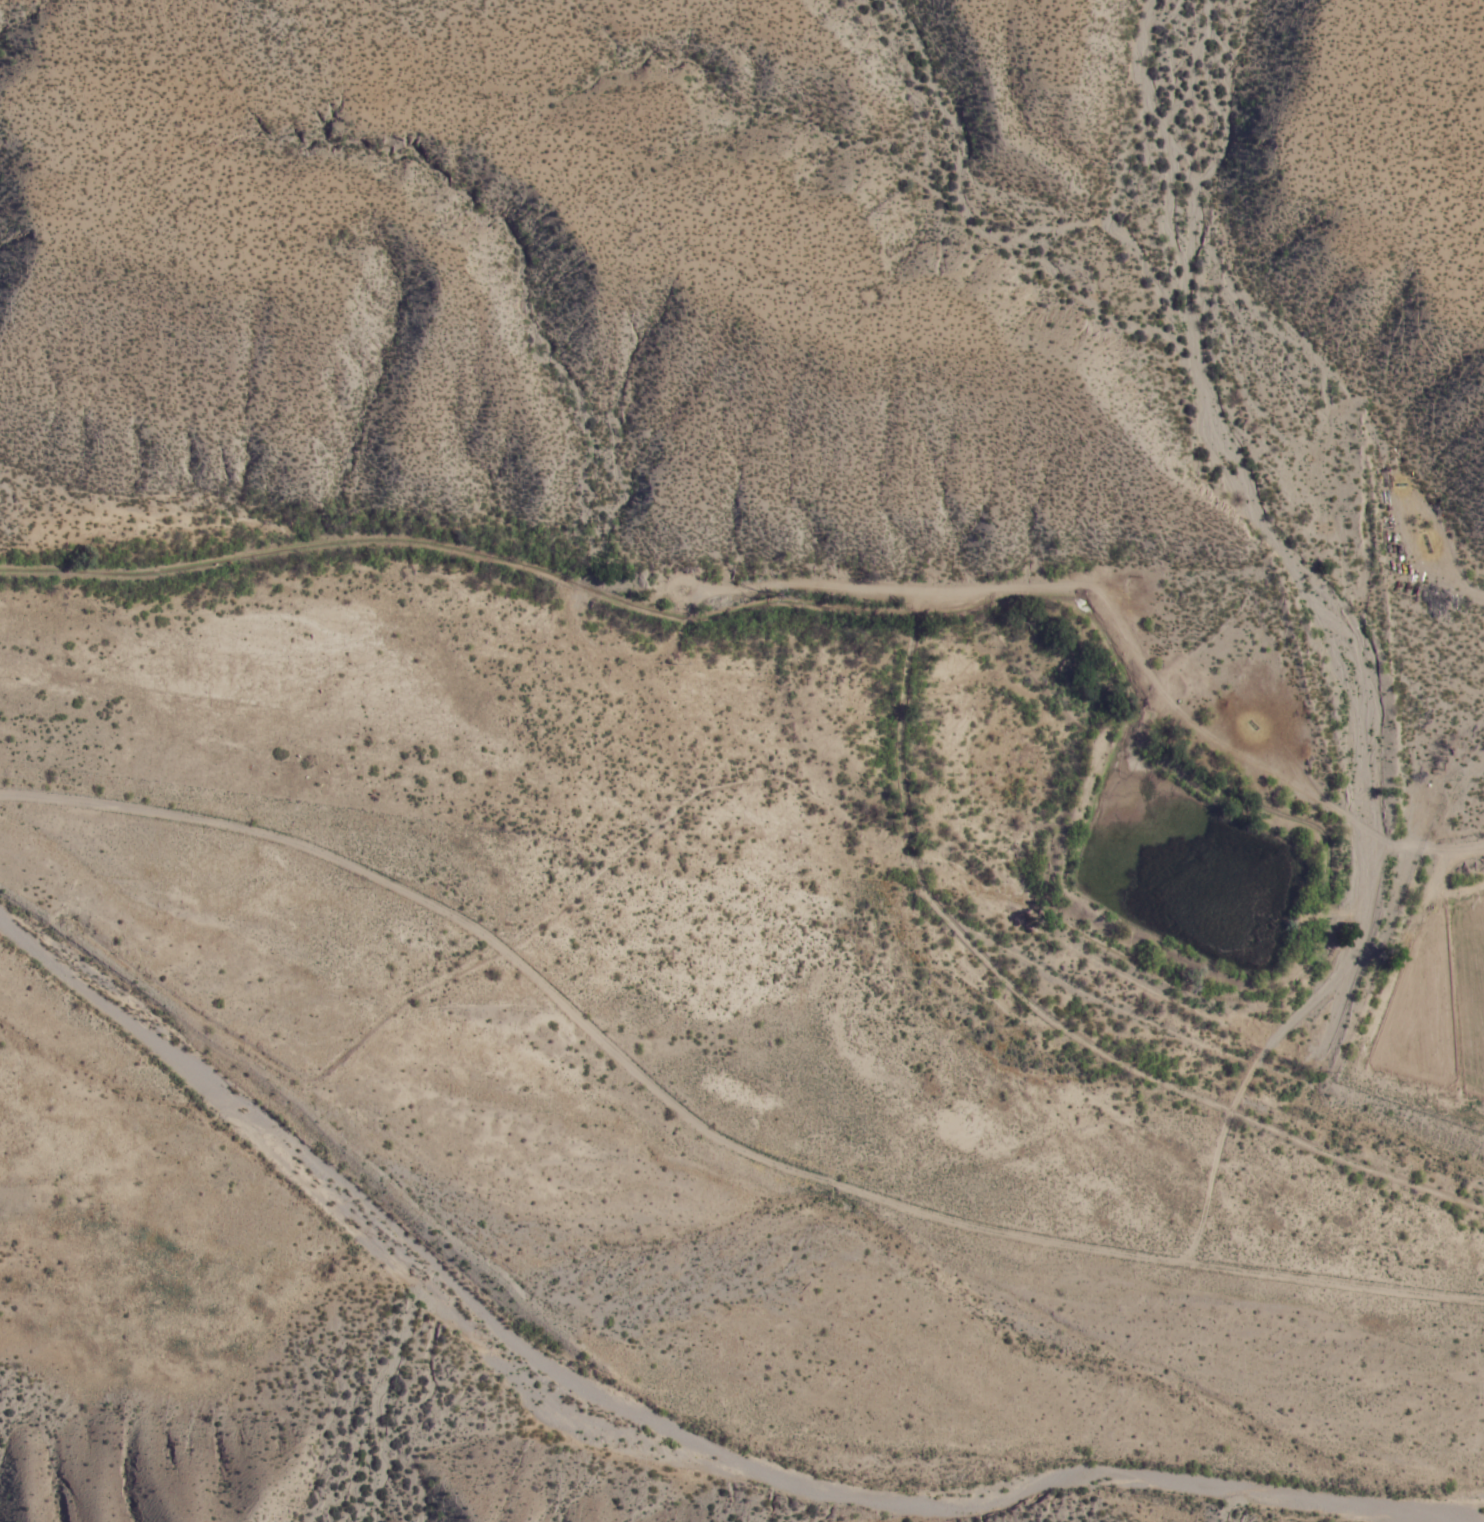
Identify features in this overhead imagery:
road: (1079, 1116)
road: (702, 1131)

